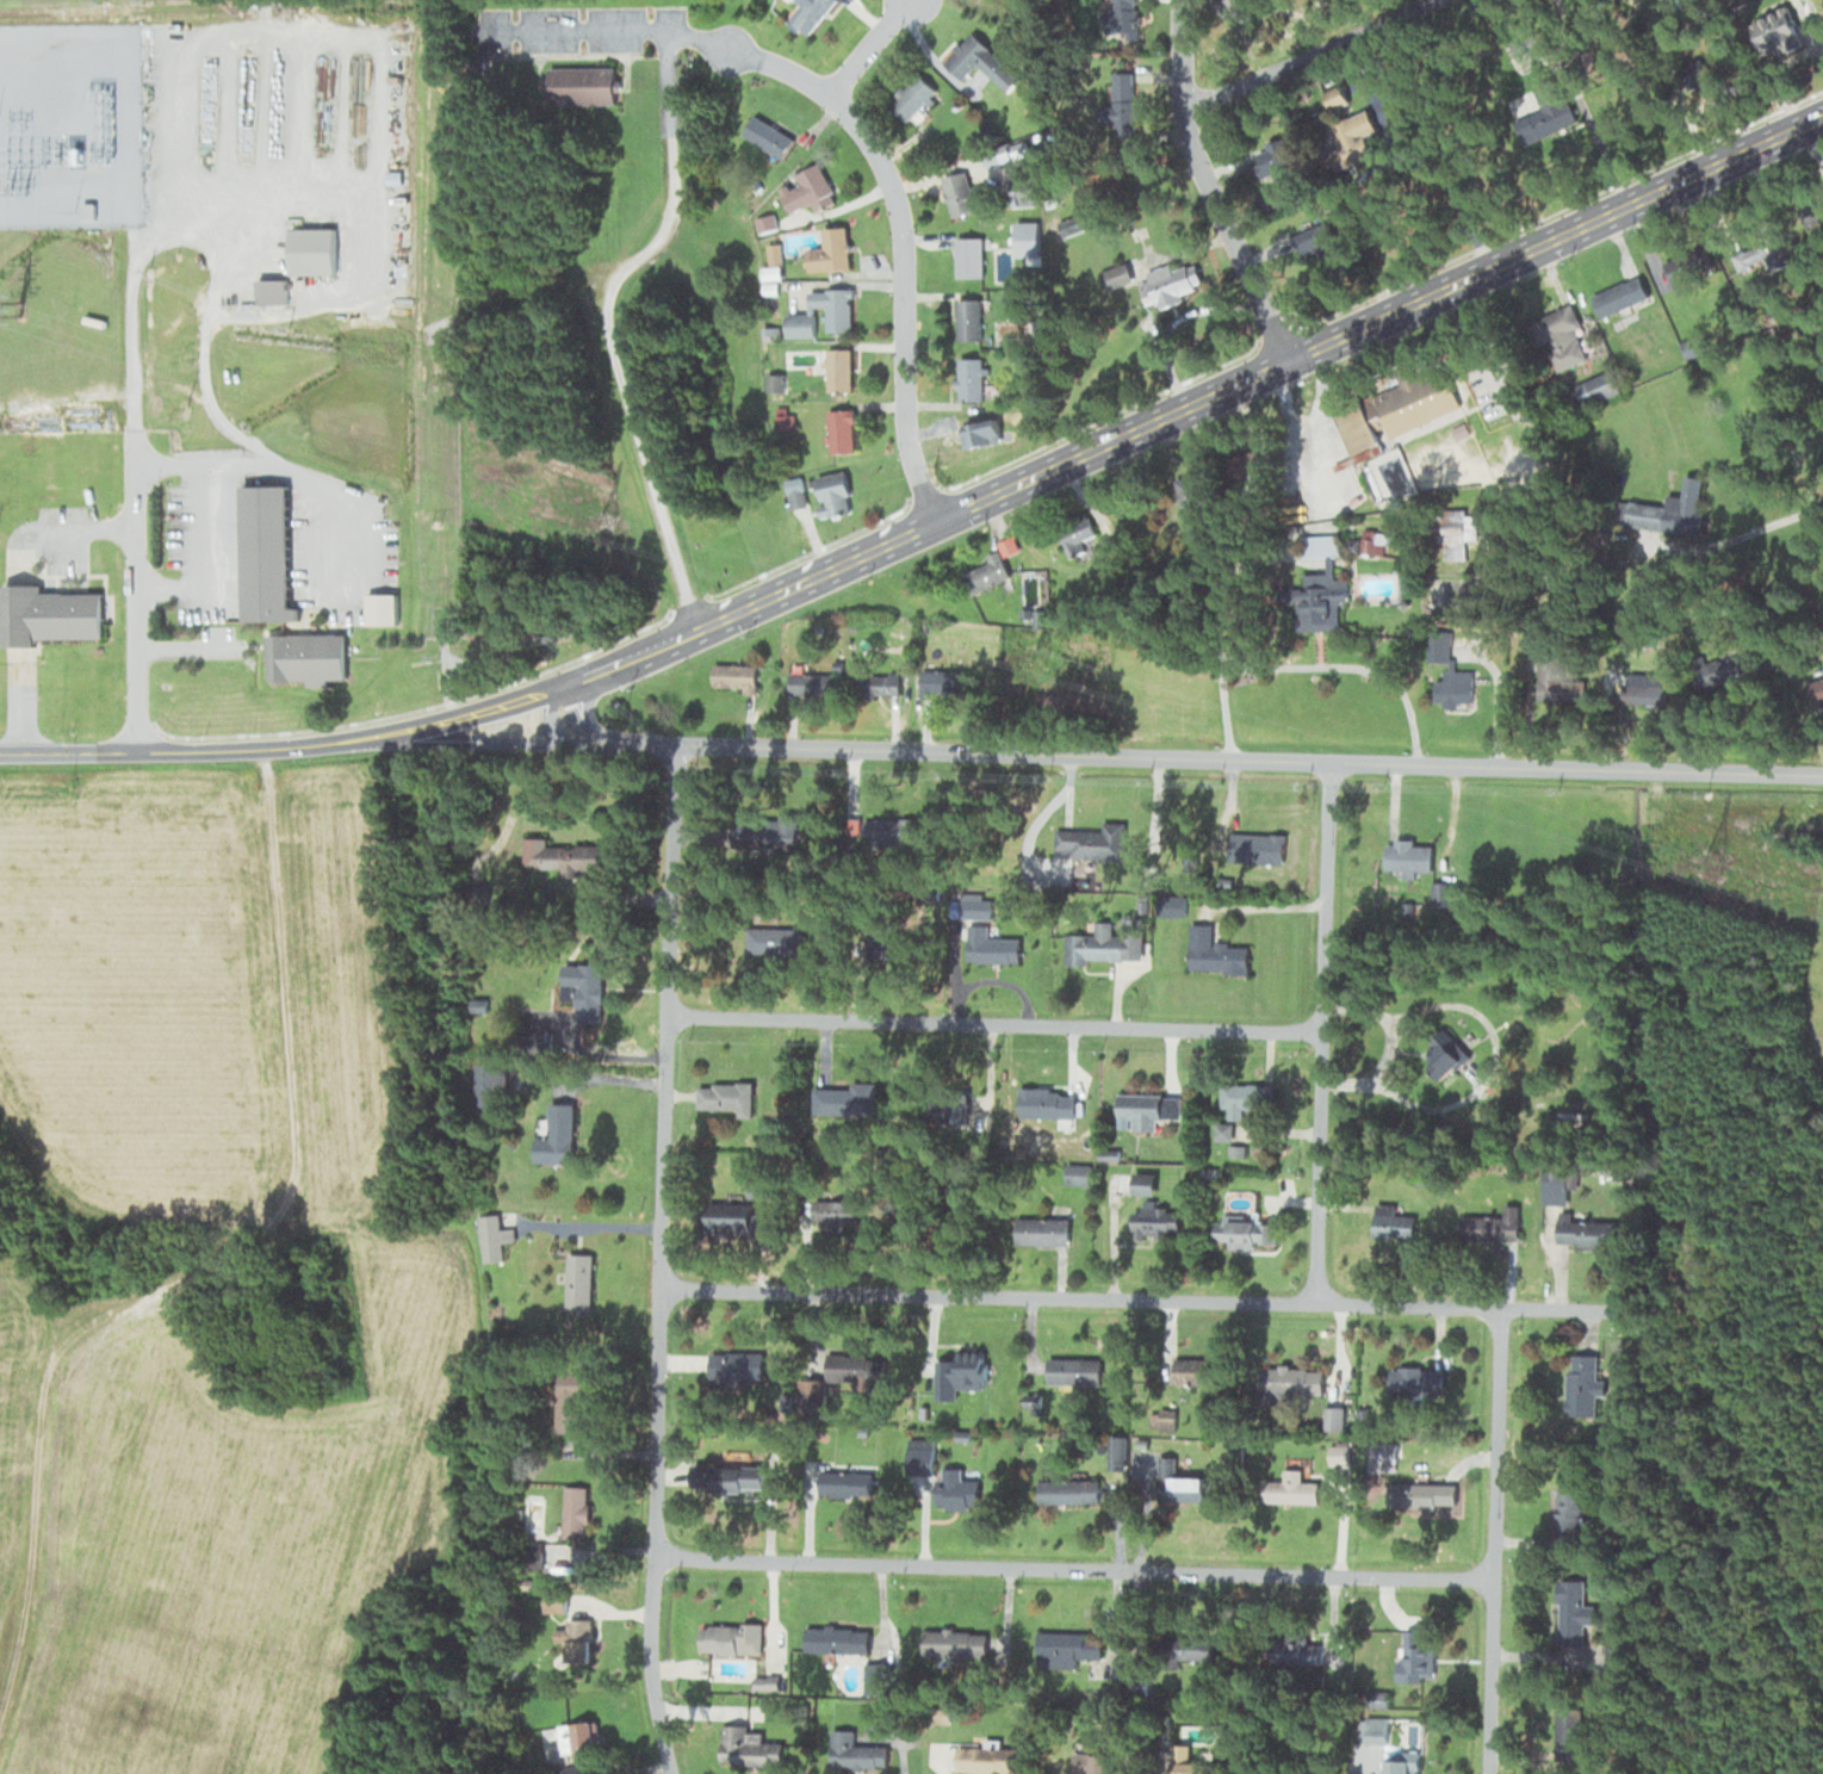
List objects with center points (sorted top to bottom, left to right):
building: (1226, 5)
building: (807, 13)
building: (1774, 25)
road: (862, 45)
road: (1315, 55)
building: (978, 61)
building: (579, 83)
building: (912, 97)
building: (1539, 111)
power substation: (69, 123)
road: (857, 132)
building: (765, 136)
building: (1345, 139)
building: (1271, 159)
building: (807, 190)
road: (1204, 190)
building: (961, 194)
building: (1822, 219)
building: (1312, 241)
building: (310, 250)
building: (1760, 250)
building: (829, 252)
building: (967, 258)
building: (1685, 272)
building: (1111, 278)
road: (221, 279)
building: (1167, 285)
building: (268, 291)
building: (1619, 297)
power tower: (20, 309)
building: (833, 309)
road: (600, 315)
building: (967, 321)
building: (1558, 336)
building: (836, 370)
road: (1260, 377)
building: (968, 379)
power tower: (435, 383)
building: (1595, 387)
building: (1416, 403)
building: (839, 432)
building: (1357, 433)
road: (236, 463)
road: (169, 464)
building: (831, 494)
building: (1191, 496)
building: (1687, 504)
road: (1815, 505)
power tower: (599, 520)
power tower: (436, 521)
road: (81, 527)
building: (1455, 534)
building: (1074, 536)
road: (1718, 540)
building: (262, 554)
road: (209, 558)
building: (982, 573)
building: (1309, 607)
building: (379, 608)
road: (135, 609)
building: (49, 615)
road: (184, 649)
building: (302, 657)
road: (630, 657)
power tower: (1035, 657)
road: (1306, 668)
building: (733, 676)
building: (1558, 680)
building: (940, 682)
building: (808, 684)
building: (880, 684)
building: (1455, 688)
building: (1642, 688)
building: (1817, 693)
road: (20, 708)
road: (285, 749)
road: (1172, 757)
building: (889, 831)
building: (761, 836)
building: (1087, 839)
building: (1261, 846)
building: (559, 855)
building: (1408, 856)
power tower: (1736, 864)
building: (1443, 892)
building: (972, 918)
building: (1122, 939)
building: (773, 941)
building: (891, 948)
building: (1214, 951)
building: (587, 991)
road: (1359, 1010)
road: (991, 1024)
road: (1319, 1032)
building: (528, 1041)
building: (1439, 1056)
road: (1494, 1061)
building: (489, 1083)
building: (724, 1096)
building: (1240, 1099)
building: (1048, 1104)
building: (1147, 1110)
building: (1571, 1123)
building: (1222, 1131)
building: (554, 1140)
building: (1075, 1179)
building: (1142, 1183)
building: (832, 1214)
building: (727, 1217)
building: (1155, 1221)
building: (1488, 1223)
building: (1393, 1224)
building: (1242, 1230)
building: (1586, 1233)
building: (491, 1236)
road: (218, 1255)
road: (658, 1259)
building: (577, 1279)
road: (1146, 1301)
building: (734, 1365)
building: (1196, 1369)
building: (960, 1370)
building: (1072, 1370)
building: (1424, 1379)
building: (1291, 1381)
building: (1582, 1384)
building: (813, 1391)
building: (568, 1403)
building: (1337, 1451)
building: (918, 1454)
building: (726, 1477)
building: (849, 1481)
building: (1177, 1484)
building: (956, 1485)
building: (1067, 1490)
building: (1290, 1491)
building: (1570, 1507)
building: (573, 1511)
building: (532, 1515)
road: (1490, 1540)
road: (1072, 1569)
building: (1571, 1611)
building: (728, 1637)
building: (836, 1638)
building: (576, 1639)
building: (953, 1642)
building: (1066, 1646)
building: (1294, 1651)
building: (1414, 1655)
building: (873, 1676)
building: (1567, 1732)
building: (575, 1737)
building: (748, 1747)
building: (854, 1751)
building: (1389, 1751)
building: (986, 1759)
building: (1089, 1762)

